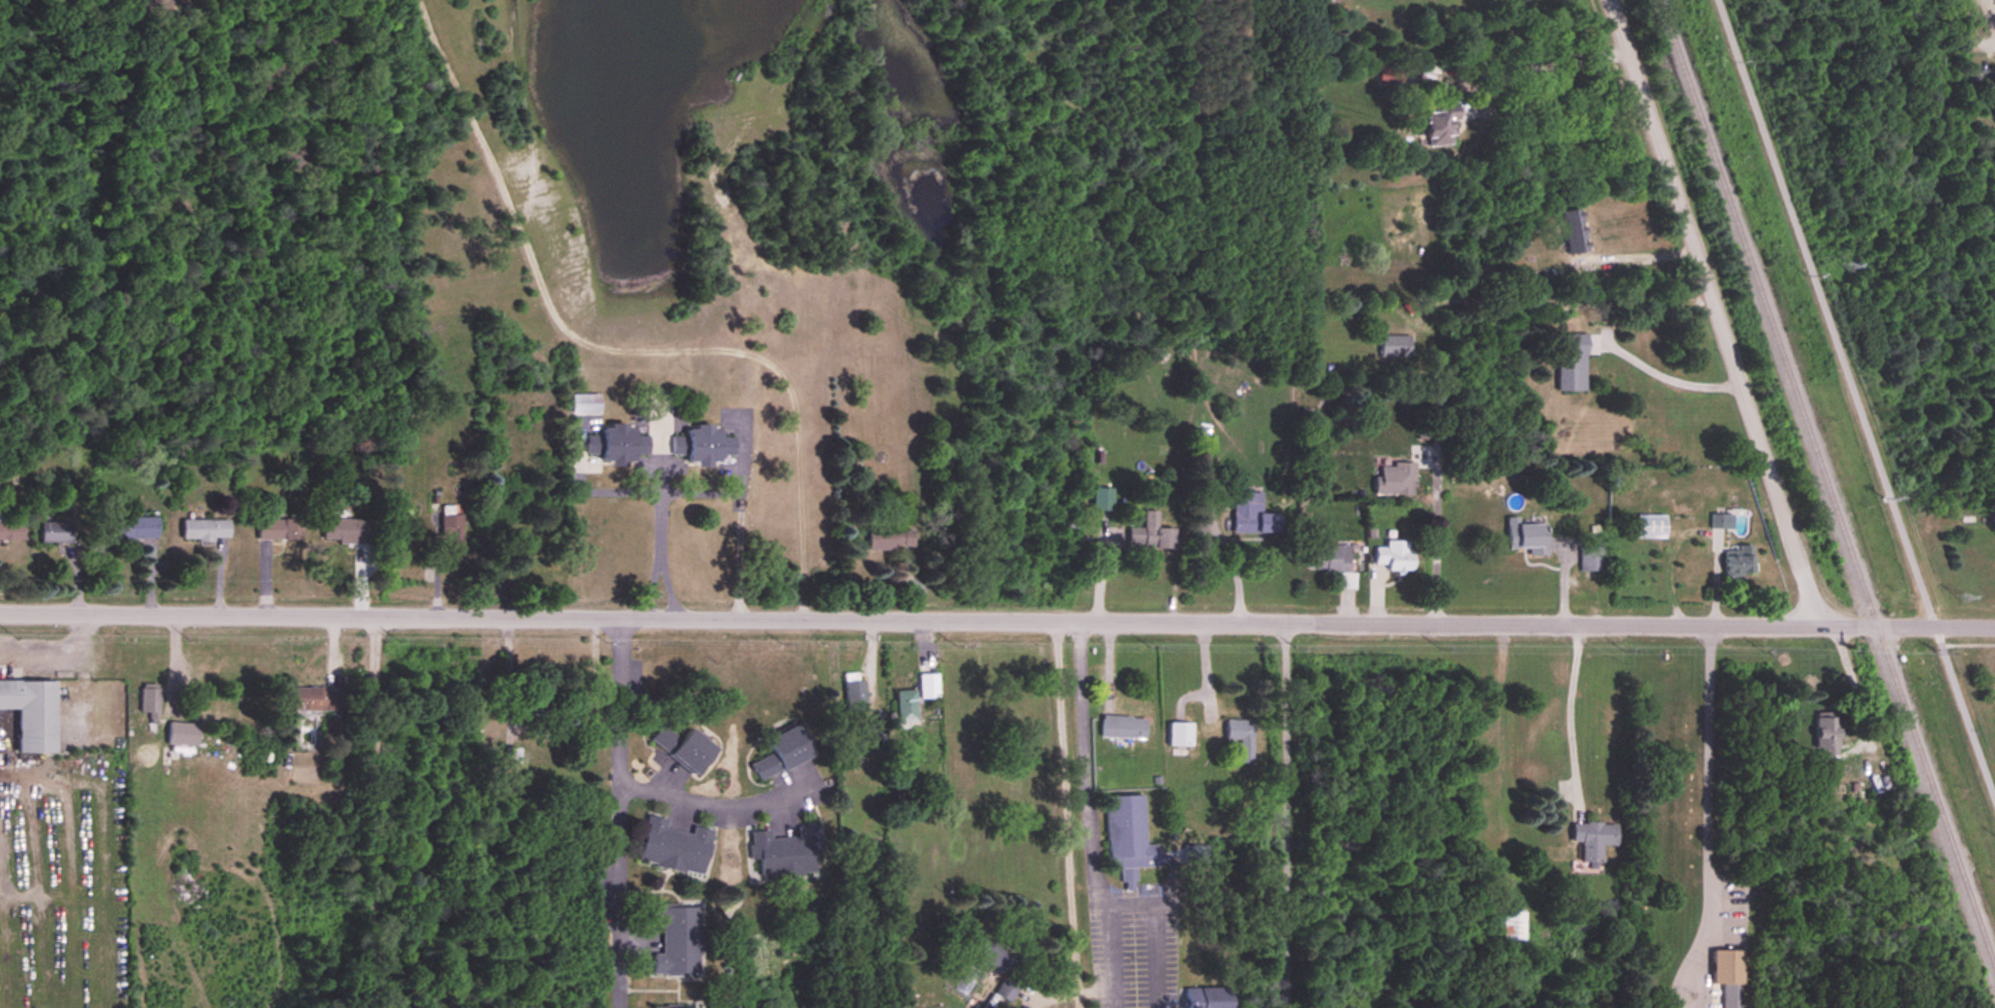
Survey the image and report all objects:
road: (1984, 46)
road: (1573, 65)
building: (1436, 126)
building: (1571, 231)
road: (1717, 312)
building: (1393, 347)
road: (616, 348)
building: (1570, 362)
road: (1670, 379)
road: (1856, 402)
building: (586, 405)
building: (618, 445)
building: (678, 446)
building: (709, 446)
building: (1392, 480)
railway: (1825, 480)
road: (661, 497)
building: (1250, 515)
building: (1649, 527)
building: (137, 528)
building: (279, 530)
building: (12, 531)
building: (206, 531)
building: (345, 531)
building: (57, 532)
building: (1525, 537)
building: (449, 538)
building: (892, 538)
building: (1149, 538)
road: (1436, 552)
building: (1393, 556)
building: (1590, 559)
building: (1331, 561)
building: (1738, 562)
road: (645, 590)
road: (671, 590)
road: (997, 621)
building: (931, 686)
building: (855, 694)
building: (318, 699)
building: (151, 701)
building: (908, 707)
building: (33, 713)
road: (1570, 718)
building: (1125, 727)
building: (184, 734)
building: (1179, 734)
building: (1826, 734)
building: (1240, 737)
building: (687, 748)
building: (785, 753)
building: (512, 756)
road: (716, 802)
road: (619, 814)
road: (373, 815)
road: (1077, 815)
road: (1287, 815)
road: (1708, 820)
building: (1131, 838)
building: (1592, 840)
building: (677, 847)
building: (787, 852)
building: (1195, 854)
building: (1512, 927)
building: (679, 941)
building: (1003, 968)
building: (1726, 977)
building: (1210, 998)

